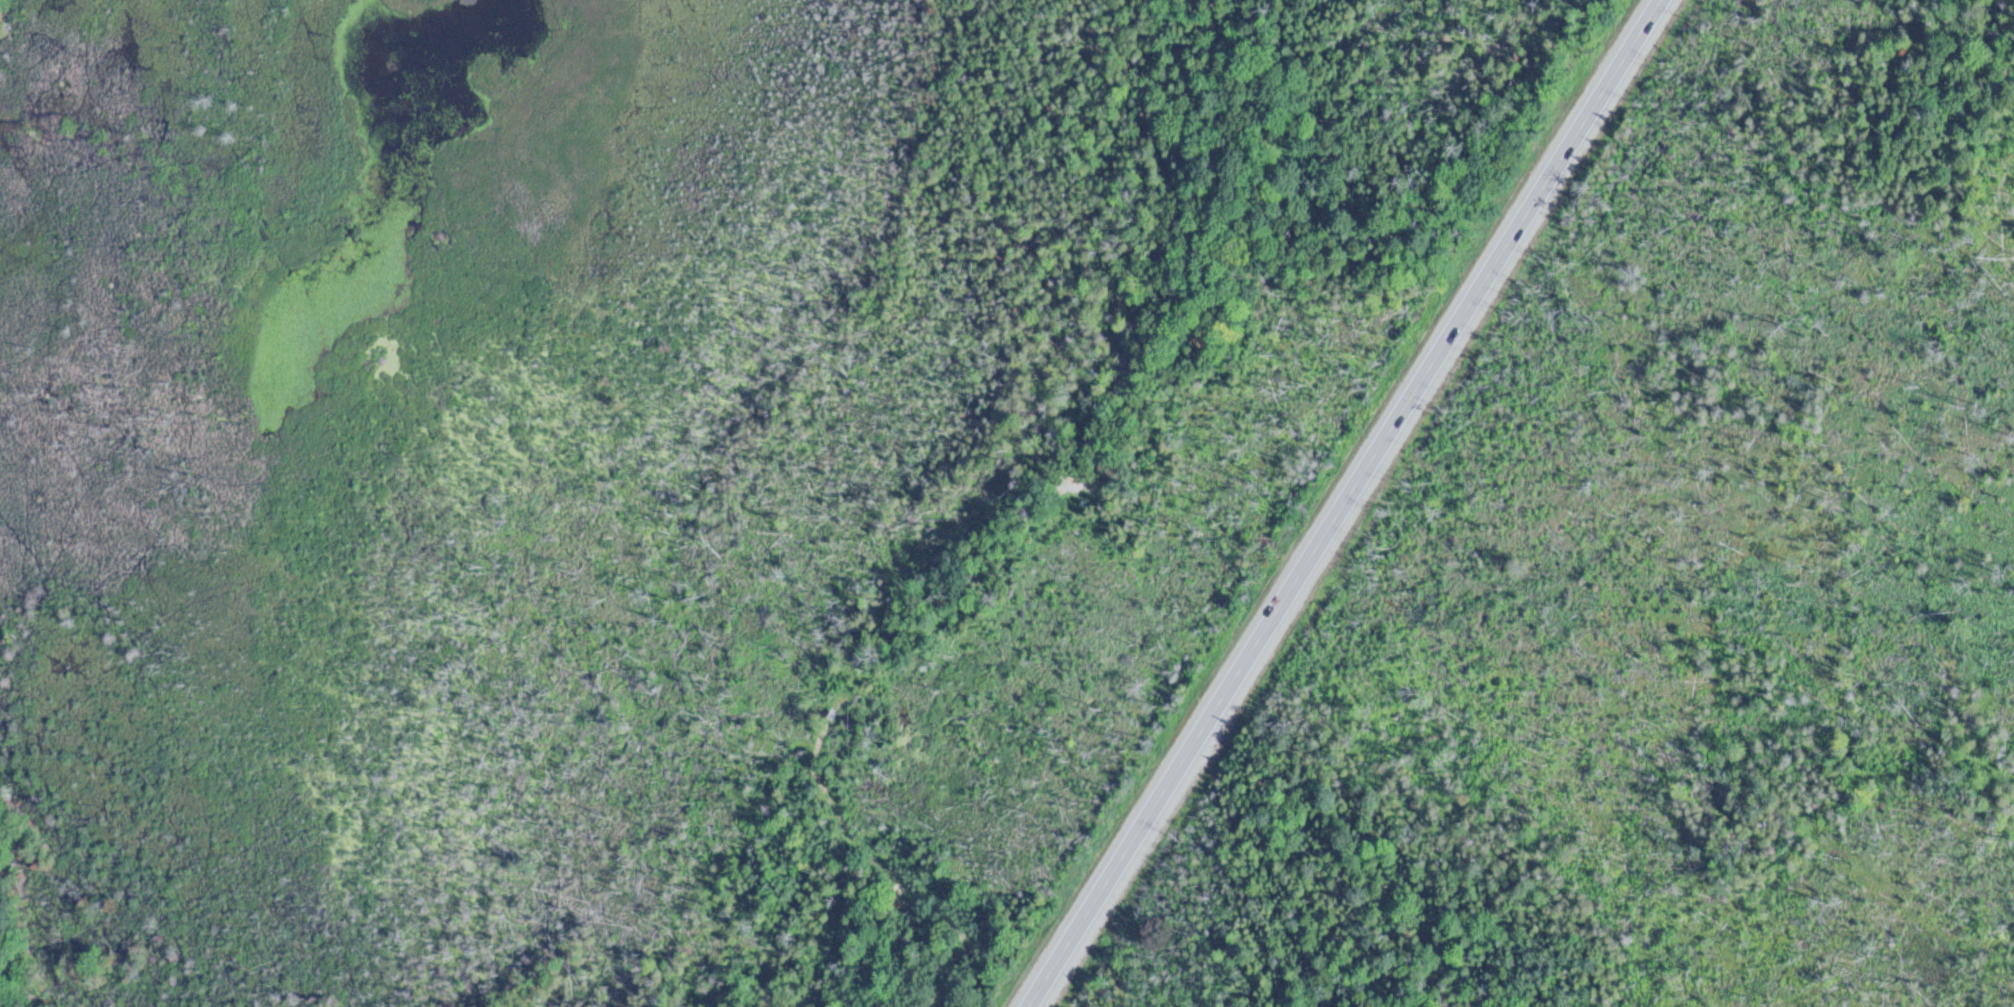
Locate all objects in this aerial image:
road: (1351, 504)

